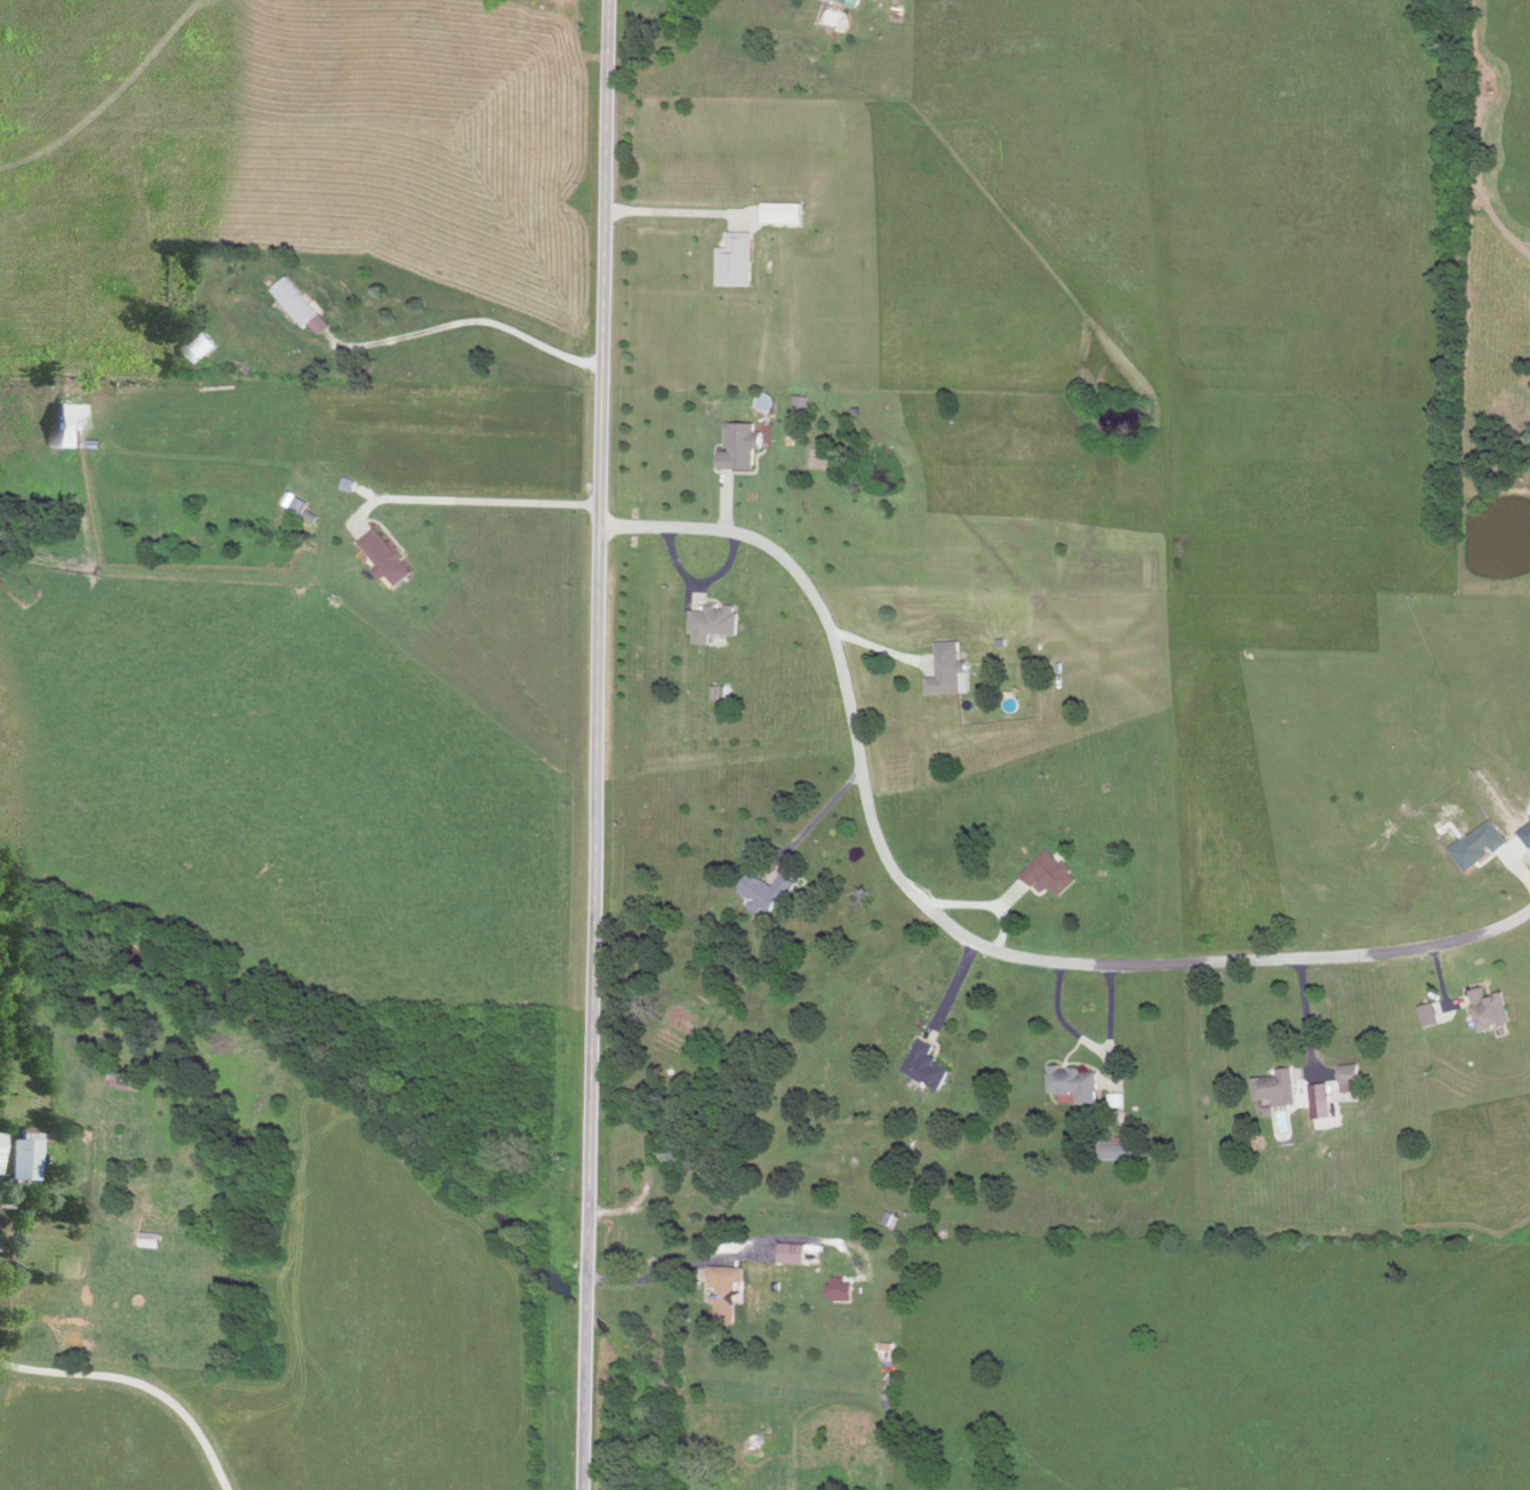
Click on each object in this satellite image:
building: (845, 2)
road: (676, 211)
building: (294, 307)
road: (463, 323)
building: (194, 348)
building: (735, 447)
building: (343, 485)
road: (473, 500)
building: (379, 557)
building: (709, 623)
road: (878, 650)
building: (943, 675)
road: (591, 744)
road: (816, 816)
building: (1044, 875)
building: (761, 891)
road: (944, 925)
road: (953, 990)
building: (1483, 1011)
road: (1303, 1020)
road: (1092, 1048)
building: (921, 1066)
building: (1344, 1075)
building: (120, 1079)
building: (1070, 1084)
building: (1270, 1089)
building: (1110, 1152)
building: (20, 1154)
building: (147, 1242)
building: (785, 1255)
road: (636, 1277)
road: (139, 1385)

